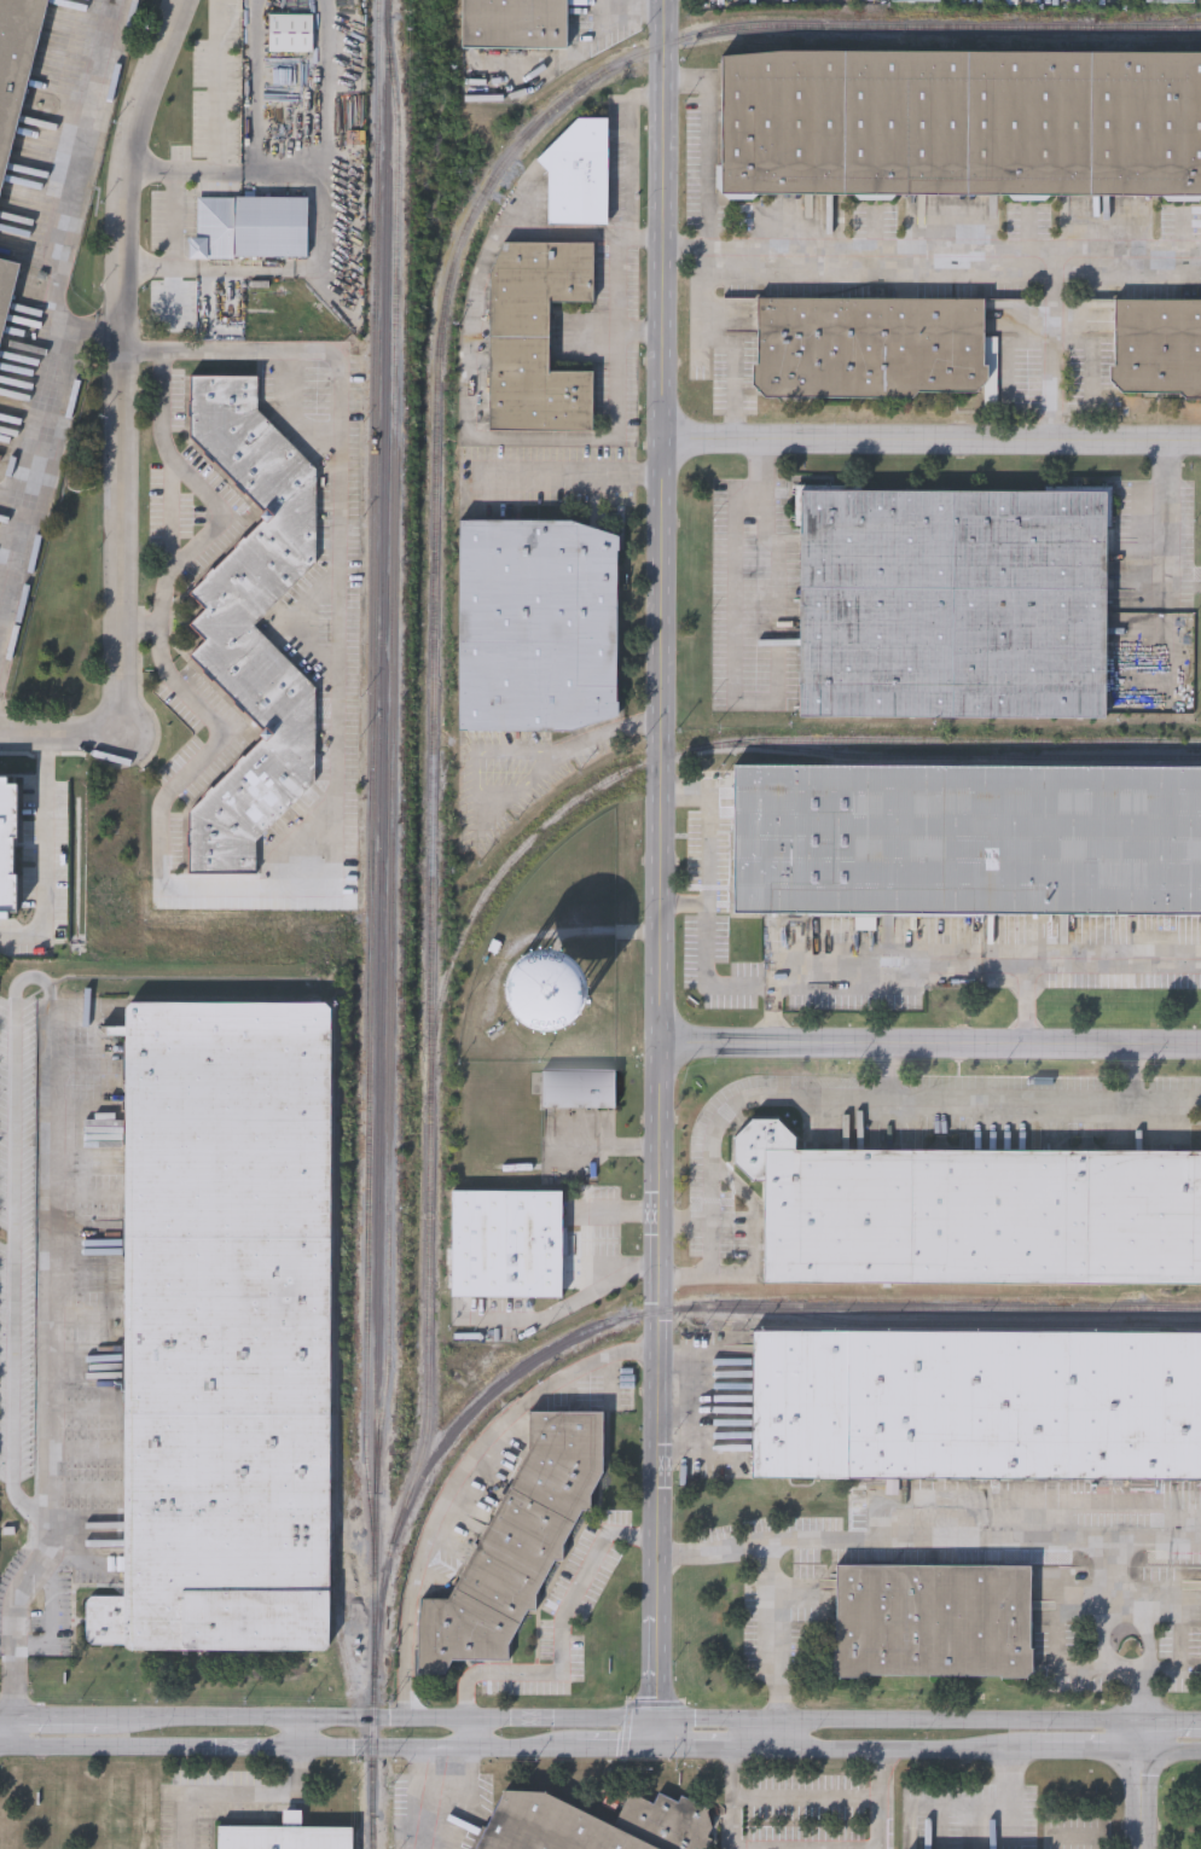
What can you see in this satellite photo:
building: (907, 0)
building: (1170, 2)
railway: (1178, 17)
building: (512, 23)
railway: (1020, 43)
building: (14, 62)
road: (318, 83)
road: (251, 85)
road: (216, 94)
building: (963, 123)
road: (708, 143)
building: (579, 174)
road: (174, 219)
road: (627, 222)
road: (342, 223)
building: (250, 226)
road: (643, 239)
road: (686, 248)
road: (773, 248)
road: (1052, 271)
building: (6, 291)
road: (62, 319)
building: (536, 336)
building: (870, 345)
building: (1156, 349)
road: (143, 350)
road: (341, 376)
road: (471, 400)
road: (120, 423)
road: (930, 441)
road: (570, 475)
road: (215, 519)
road: (1170, 519)
railway: (435, 537)
building: (951, 607)
building: (253, 621)
building: (536, 623)
road: (737, 692)
road: (602, 735)
road: (216, 744)
railway: (393, 745)
railway: (715, 745)
railway: (952, 757)
railway: (371, 775)
road: (476, 780)
road: (707, 822)
building: (969, 842)
building: (8, 853)
road: (47, 856)
road: (658, 873)
railway: (379, 924)
road: (706, 943)
road: (904, 965)
road: (1072, 965)
building: (539, 978)
road: (57, 989)
road: (929, 1048)
road: (890, 1075)
road: (1136, 1076)
building: (580, 1089)
road: (852, 1100)
road: (625, 1211)
building: (2, 1213)
building: (974, 1215)
road: (686, 1221)
road: (24, 1234)
building: (506, 1244)
road: (572, 1302)
railway: (750, 1308)
railway: (977, 1324)
building: (221, 1331)
railway: (336, 1349)
road: (53, 1391)
road: (710, 1405)
building: (976, 1408)
road: (495, 1431)
road: (37, 1495)
road: (928, 1535)
building: (515, 1545)
road: (1144, 1617)
building: (933, 1624)
road: (562, 1635)
road: (774, 1644)
road: (410, 1659)
road: (52, 1720)
road: (622, 1720)
traffic signals: (655, 1721)
road: (1172, 1723)
road: (470, 1733)
road: (1143, 1737)
road: (604, 1748)
traffic signals: (655, 1748)
road: (673, 1748)
road: (736, 1748)
road: (277, 1749)
road: (906, 1749)
road: (1089, 1750)
road: (1172, 1751)
road: (255, 1795)
road: (439, 1795)
road: (878, 1798)
road: (730, 1799)
road: (1142, 1799)
road: (994, 1810)
building: (593, 1825)
road: (1093, 1831)
building: (284, 1836)
railway: (375, 1841)

